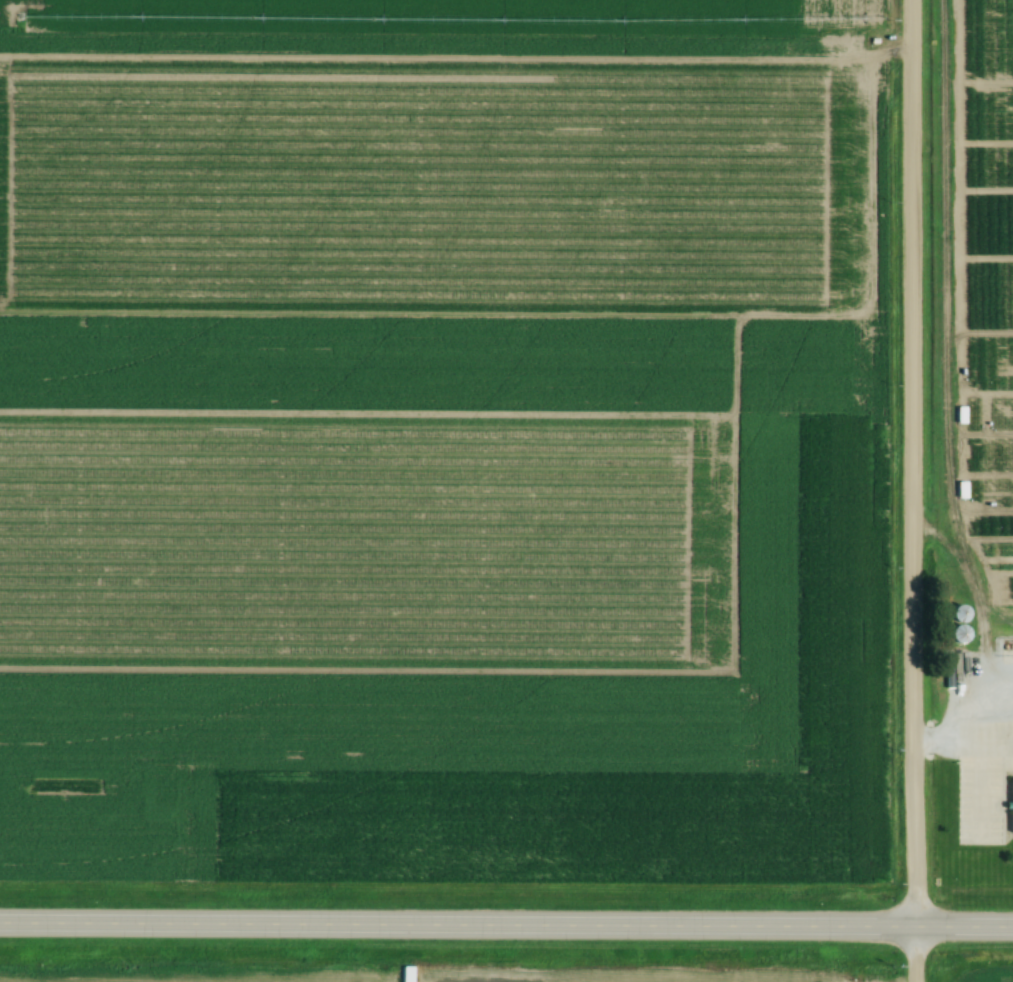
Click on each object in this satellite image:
road: (910, 491)
building: (960, 624)
road: (968, 709)
building: (1012, 829)
road: (506, 920)

